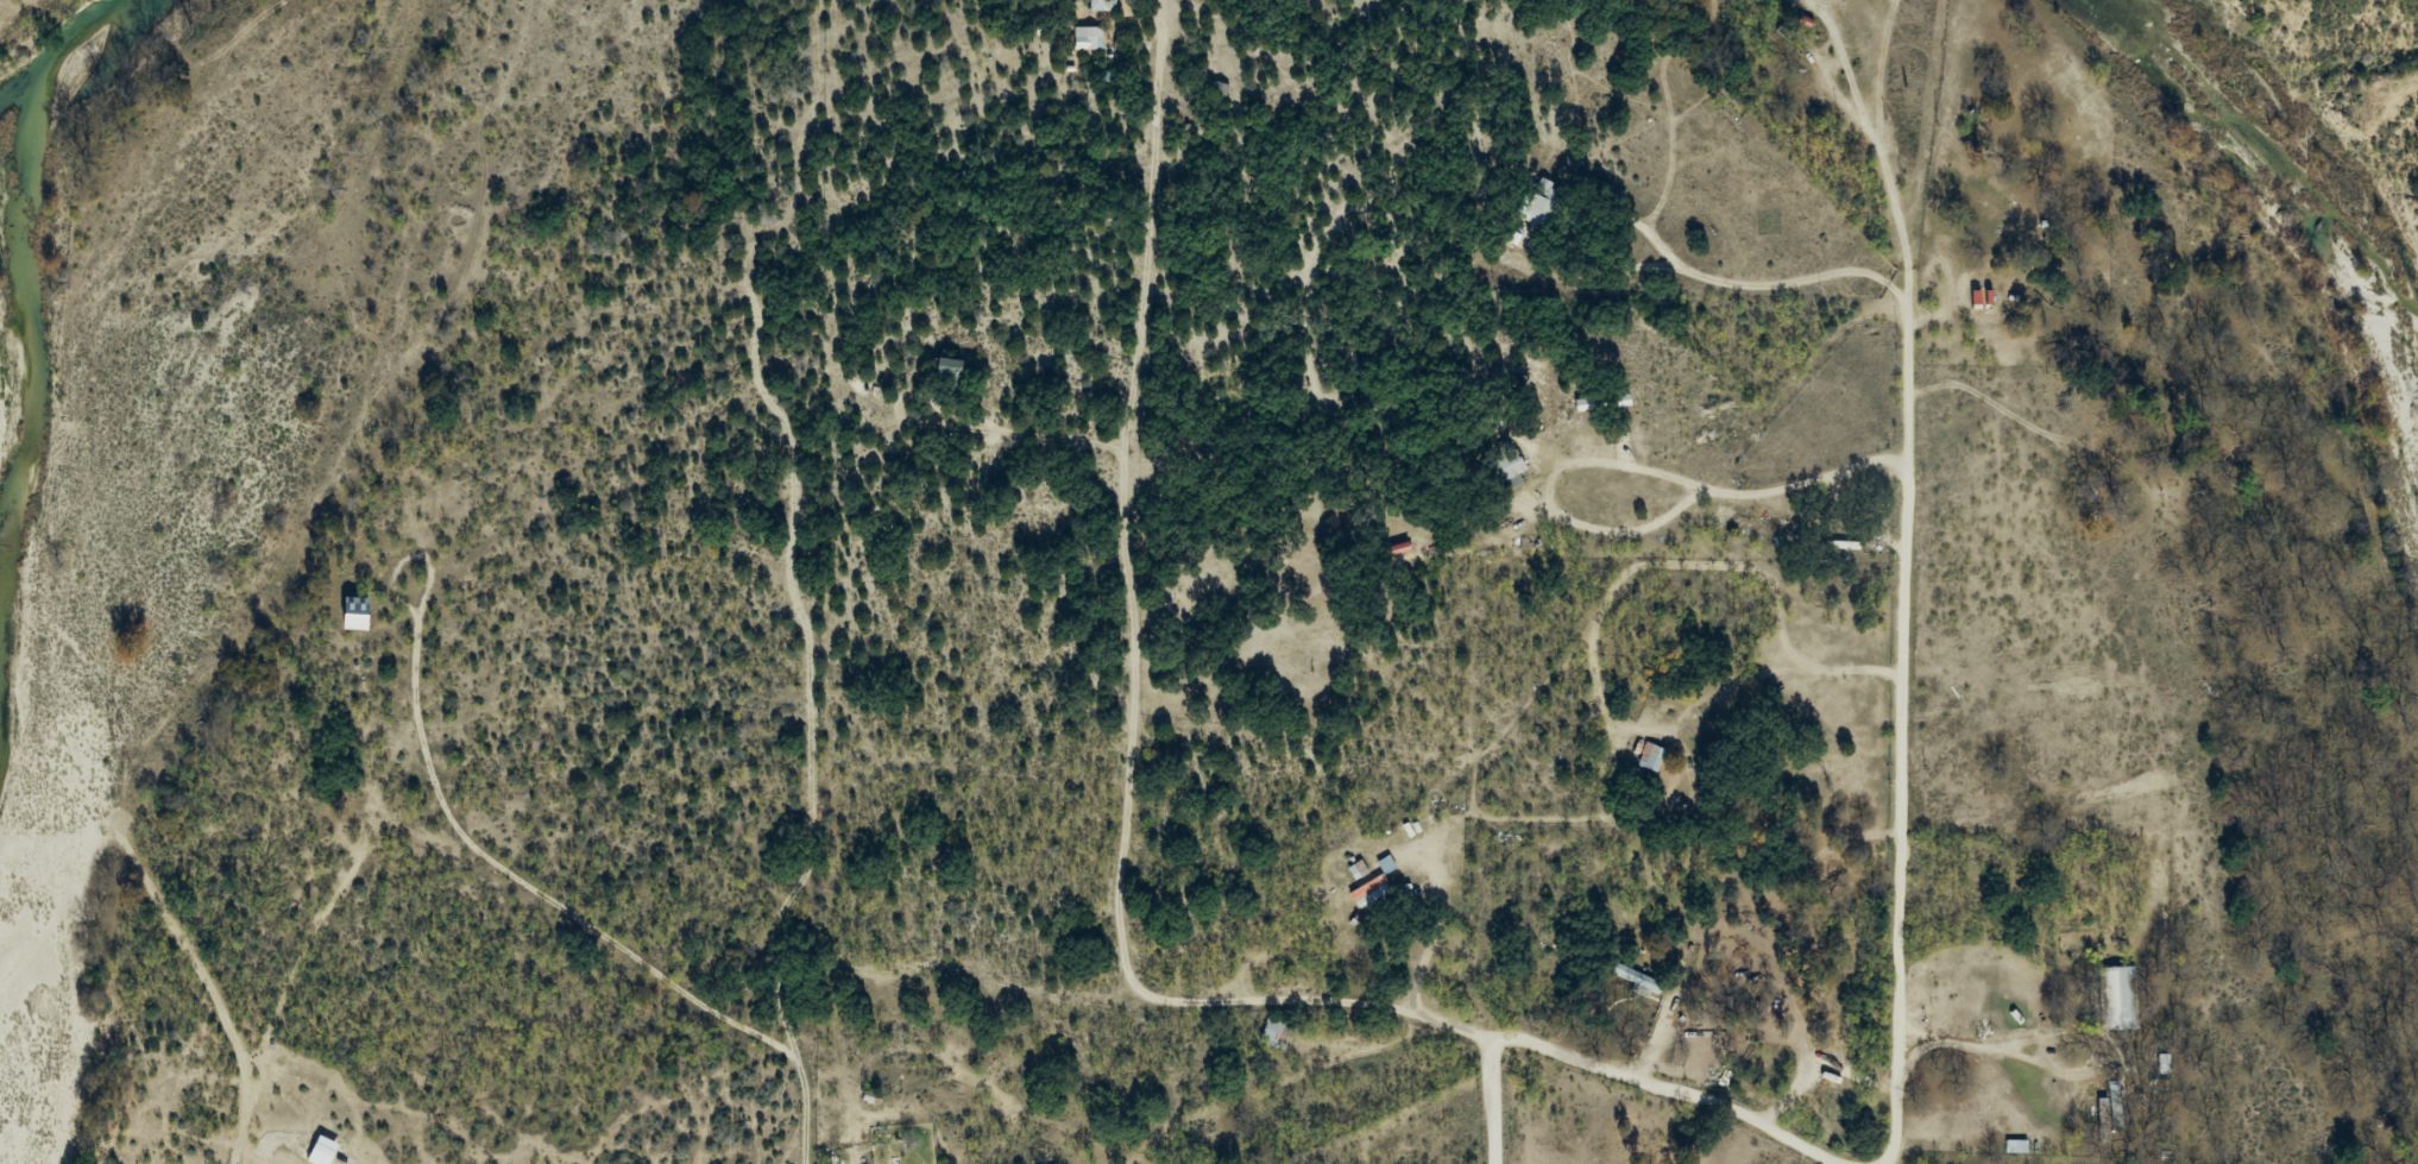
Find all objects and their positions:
building: (1089, 43)
building: (1219, 90)
river: (2282, 164)
building: (1541, 207)
river: (34, 317)
building: (950, 370)
building: (1511, 467)
building: (1831, 537)
building: (358, 614)
building: (1650, 759)
building: (1639, 980)
building: (2117, 999)
building: (1276, 1034)
building: (2109, 1107)

